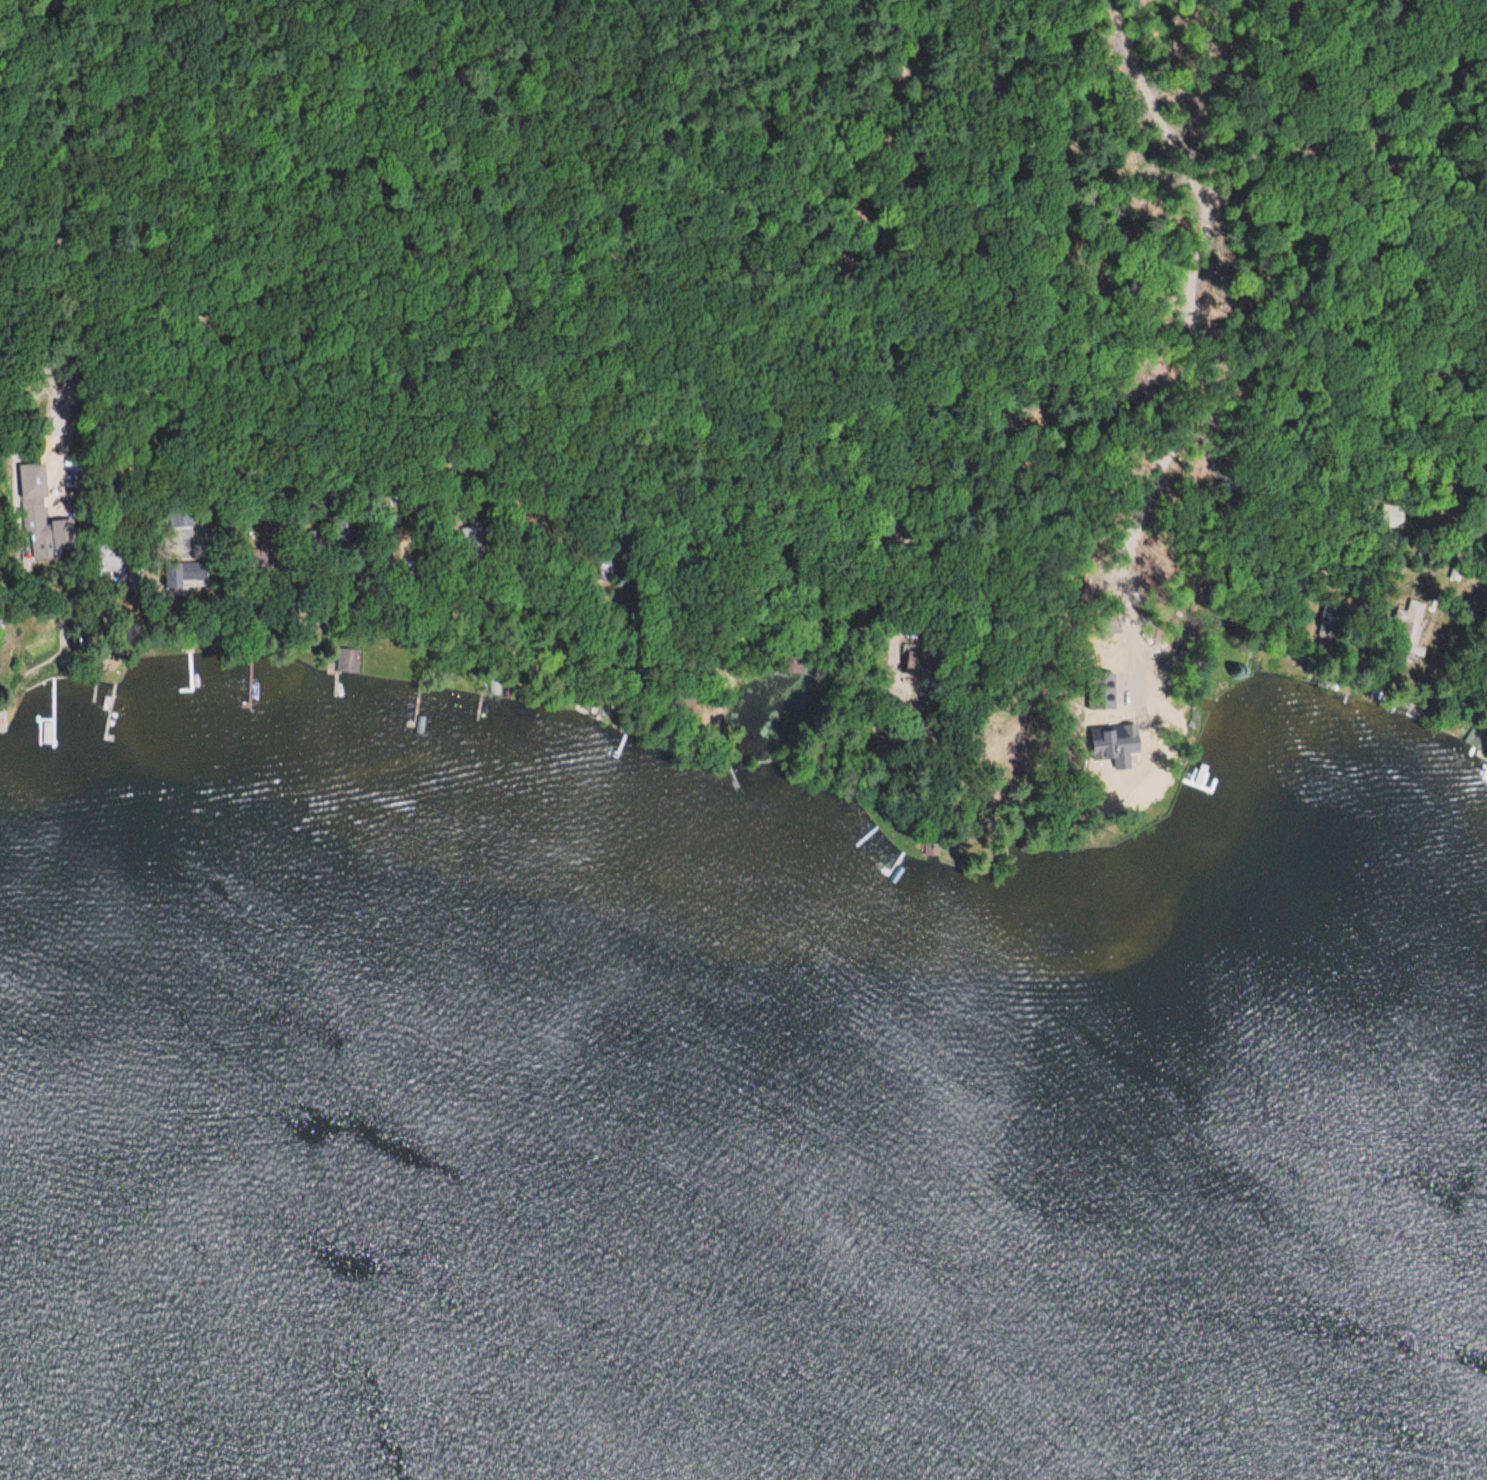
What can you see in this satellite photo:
road: (1400, 69)
road: (937, 83)
road: (1002, 84)
road: (1469, 87)
road: (1063, 107)
road: (589, 110)
road: (1214, 111)
road: (1326, 112)
road: (686, 120)
road: (767, 135)
road: (71, 221)
road: (324, 241)
road: (524, 243)
road: (1164, 259)
road: (199, 282)
road: (886, 358)
road: (980, 511)
building: (34, 514)
building: (179, 517)
road: (1479, 540)
building: (397, 543)
building: (607, 554)
building: (107, 557)
building: (184, 575)
building: (1328, 618)
building: (1407, 626)
building: (347, 661)
building: (915, 661)
building: (0, 720)

